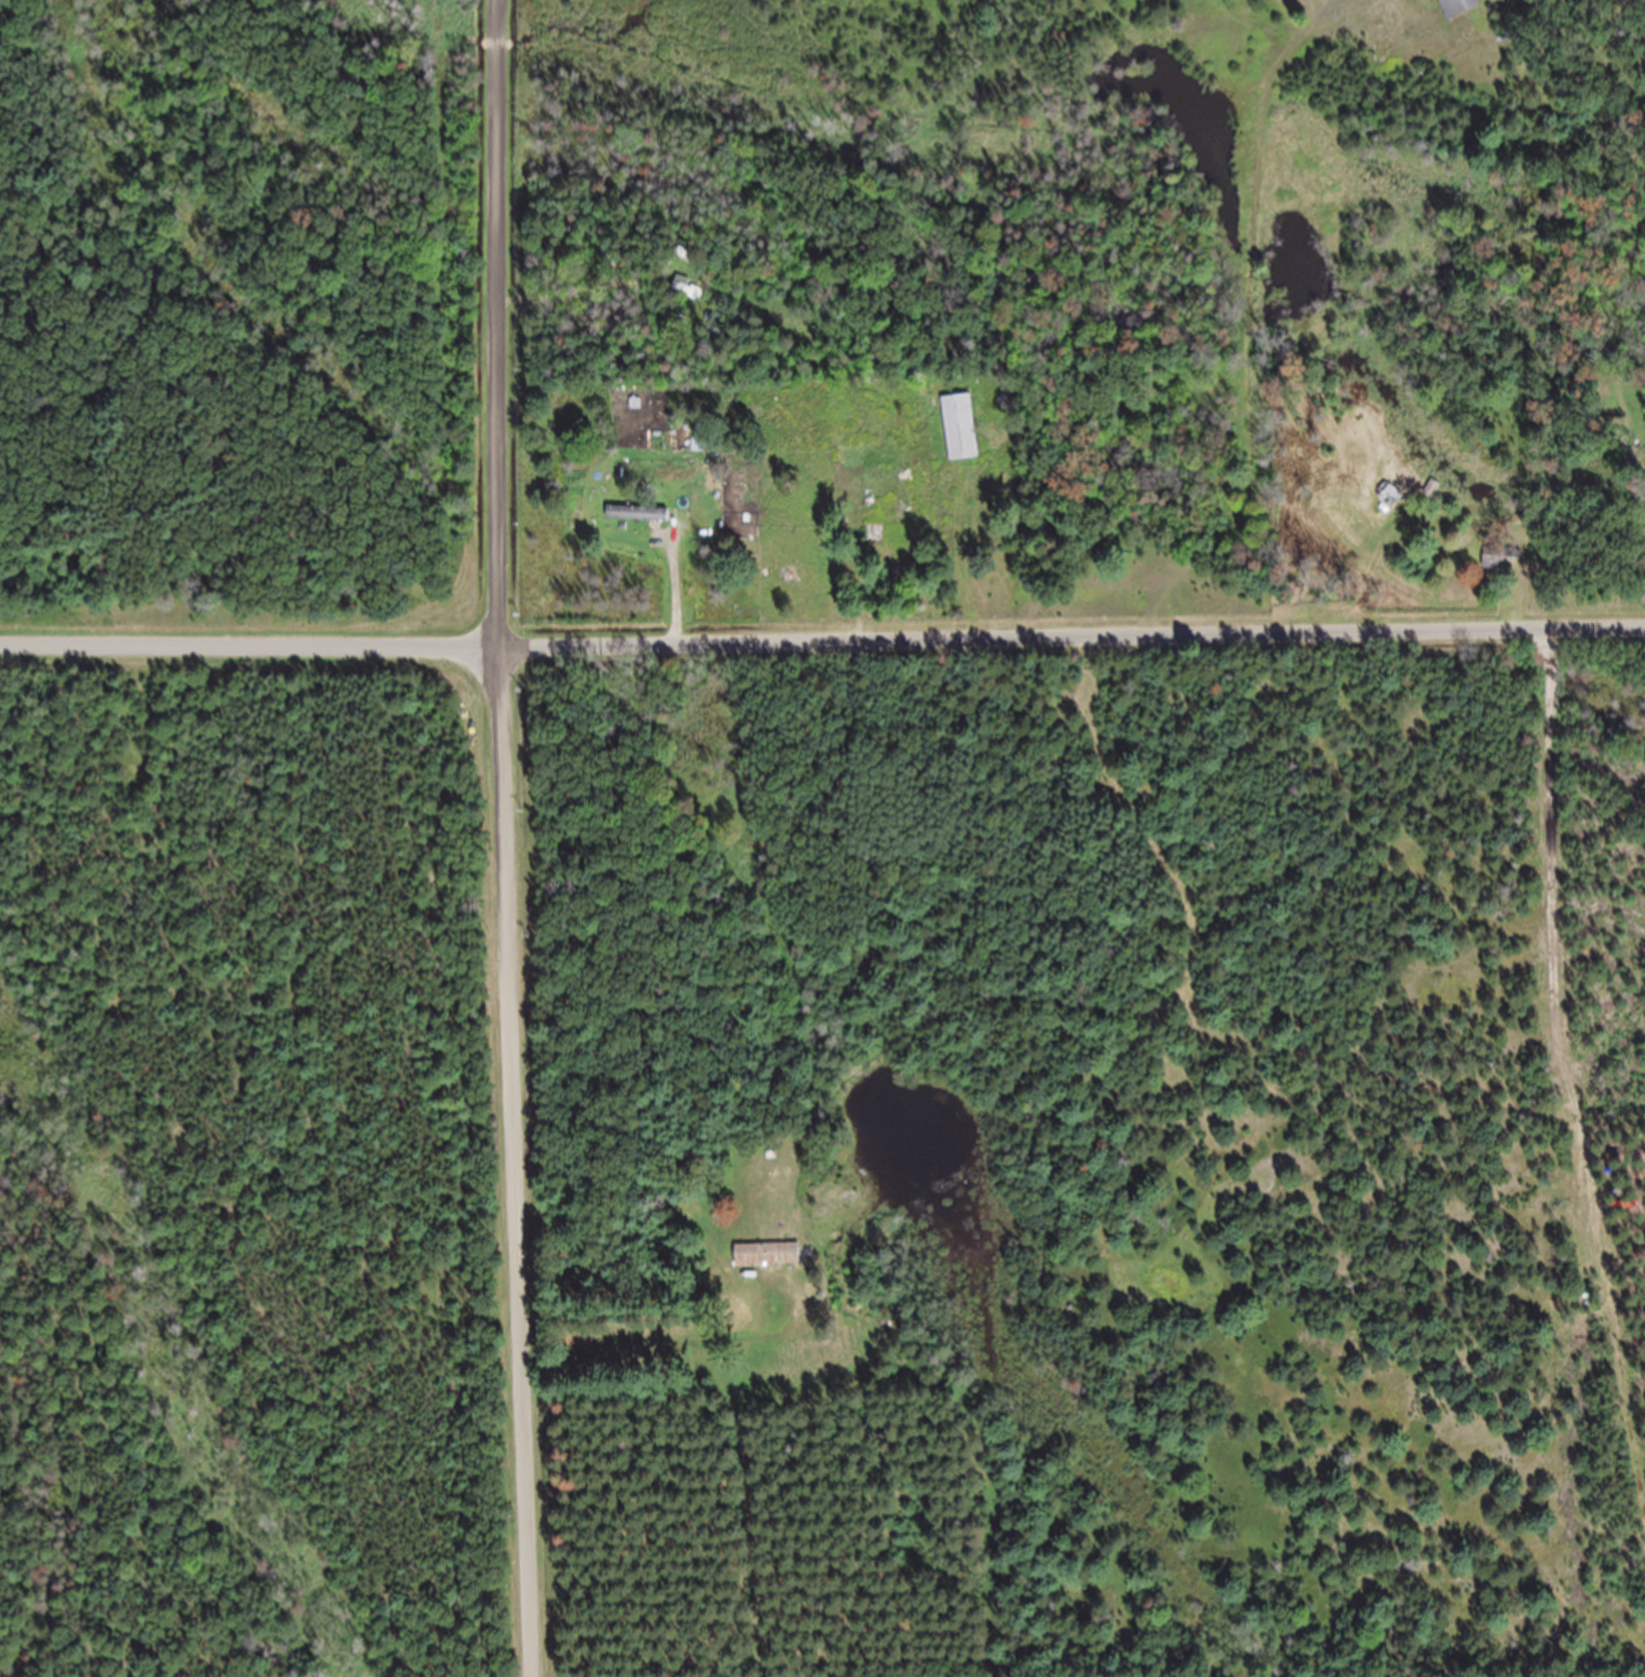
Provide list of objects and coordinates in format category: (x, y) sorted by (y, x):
building: (1459, 13)
road: (1314, 382)
building: (961, 440)
building: (1434, 502)
building: (1391, 508)
building: (637, 525)
building: (895, 549)
building: (1496, 570)
road: (1072, 635)
road: (250, 659)
road: (506, 838)
airport: (254, 1177)
building: (768, 1265)

